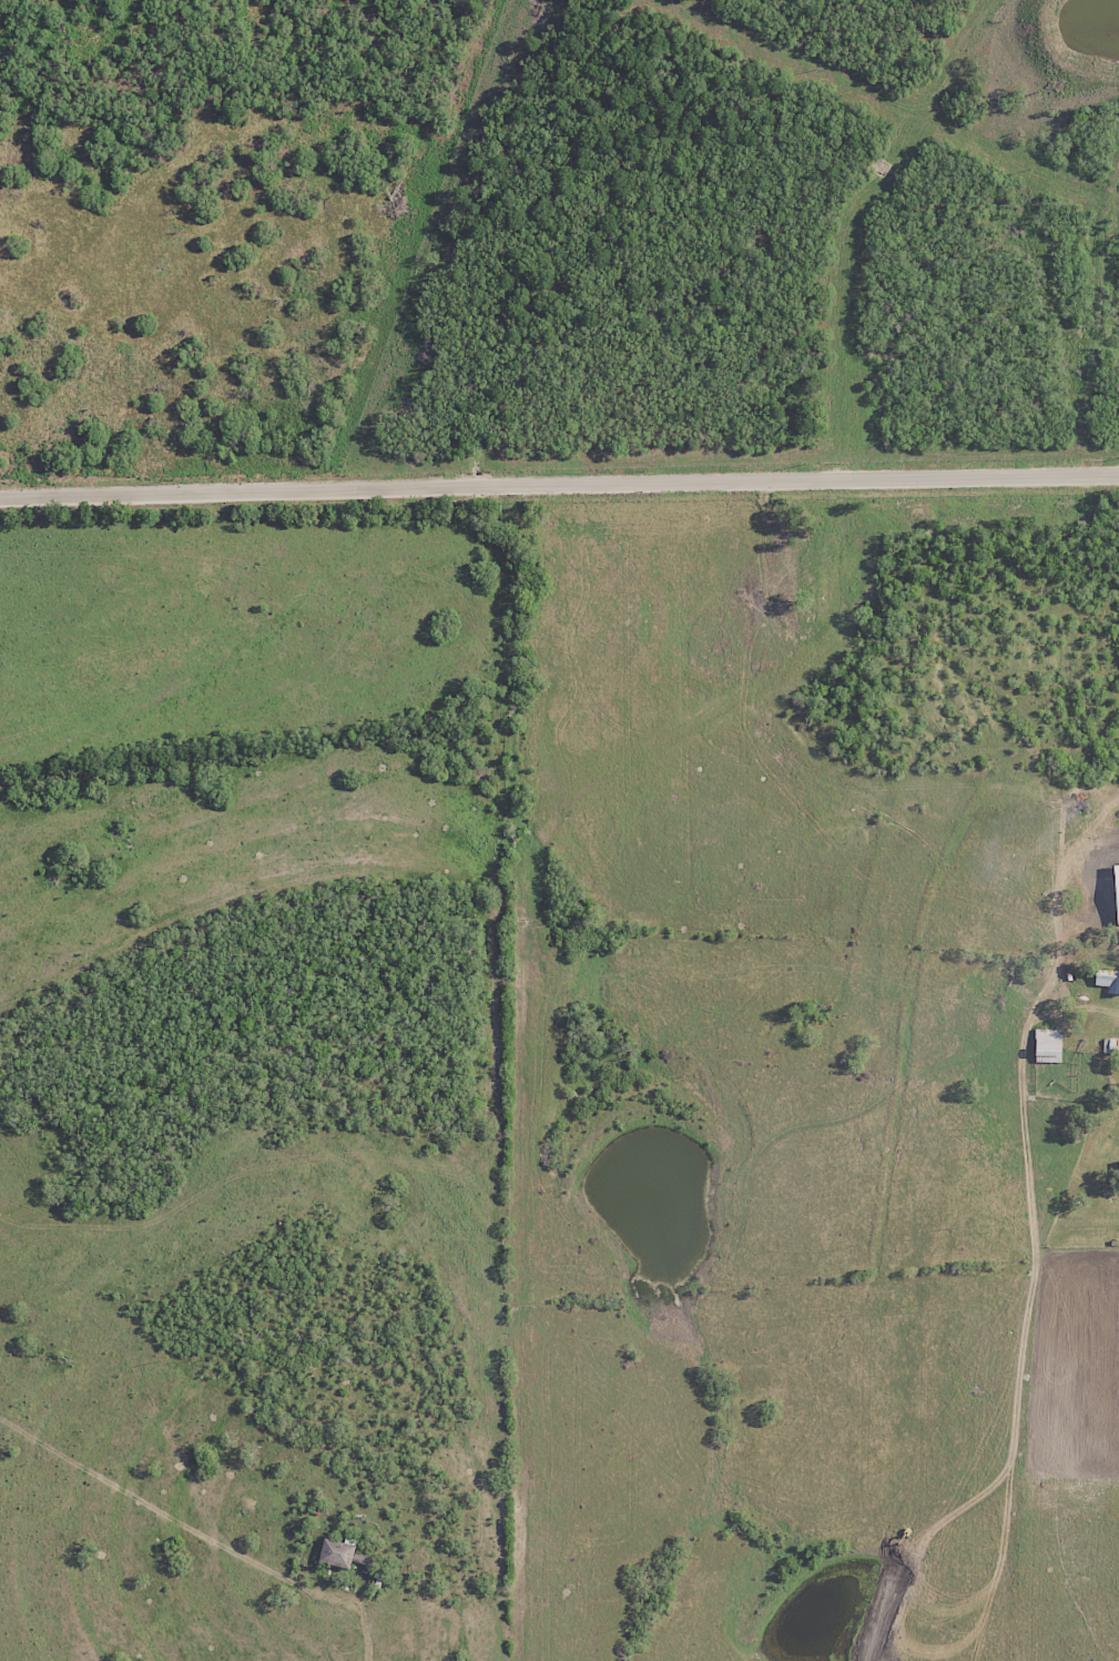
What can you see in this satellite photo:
road: (559, 479)
building: (1108, 981)
building: (1047, 1045)
building: (336, 1552)

